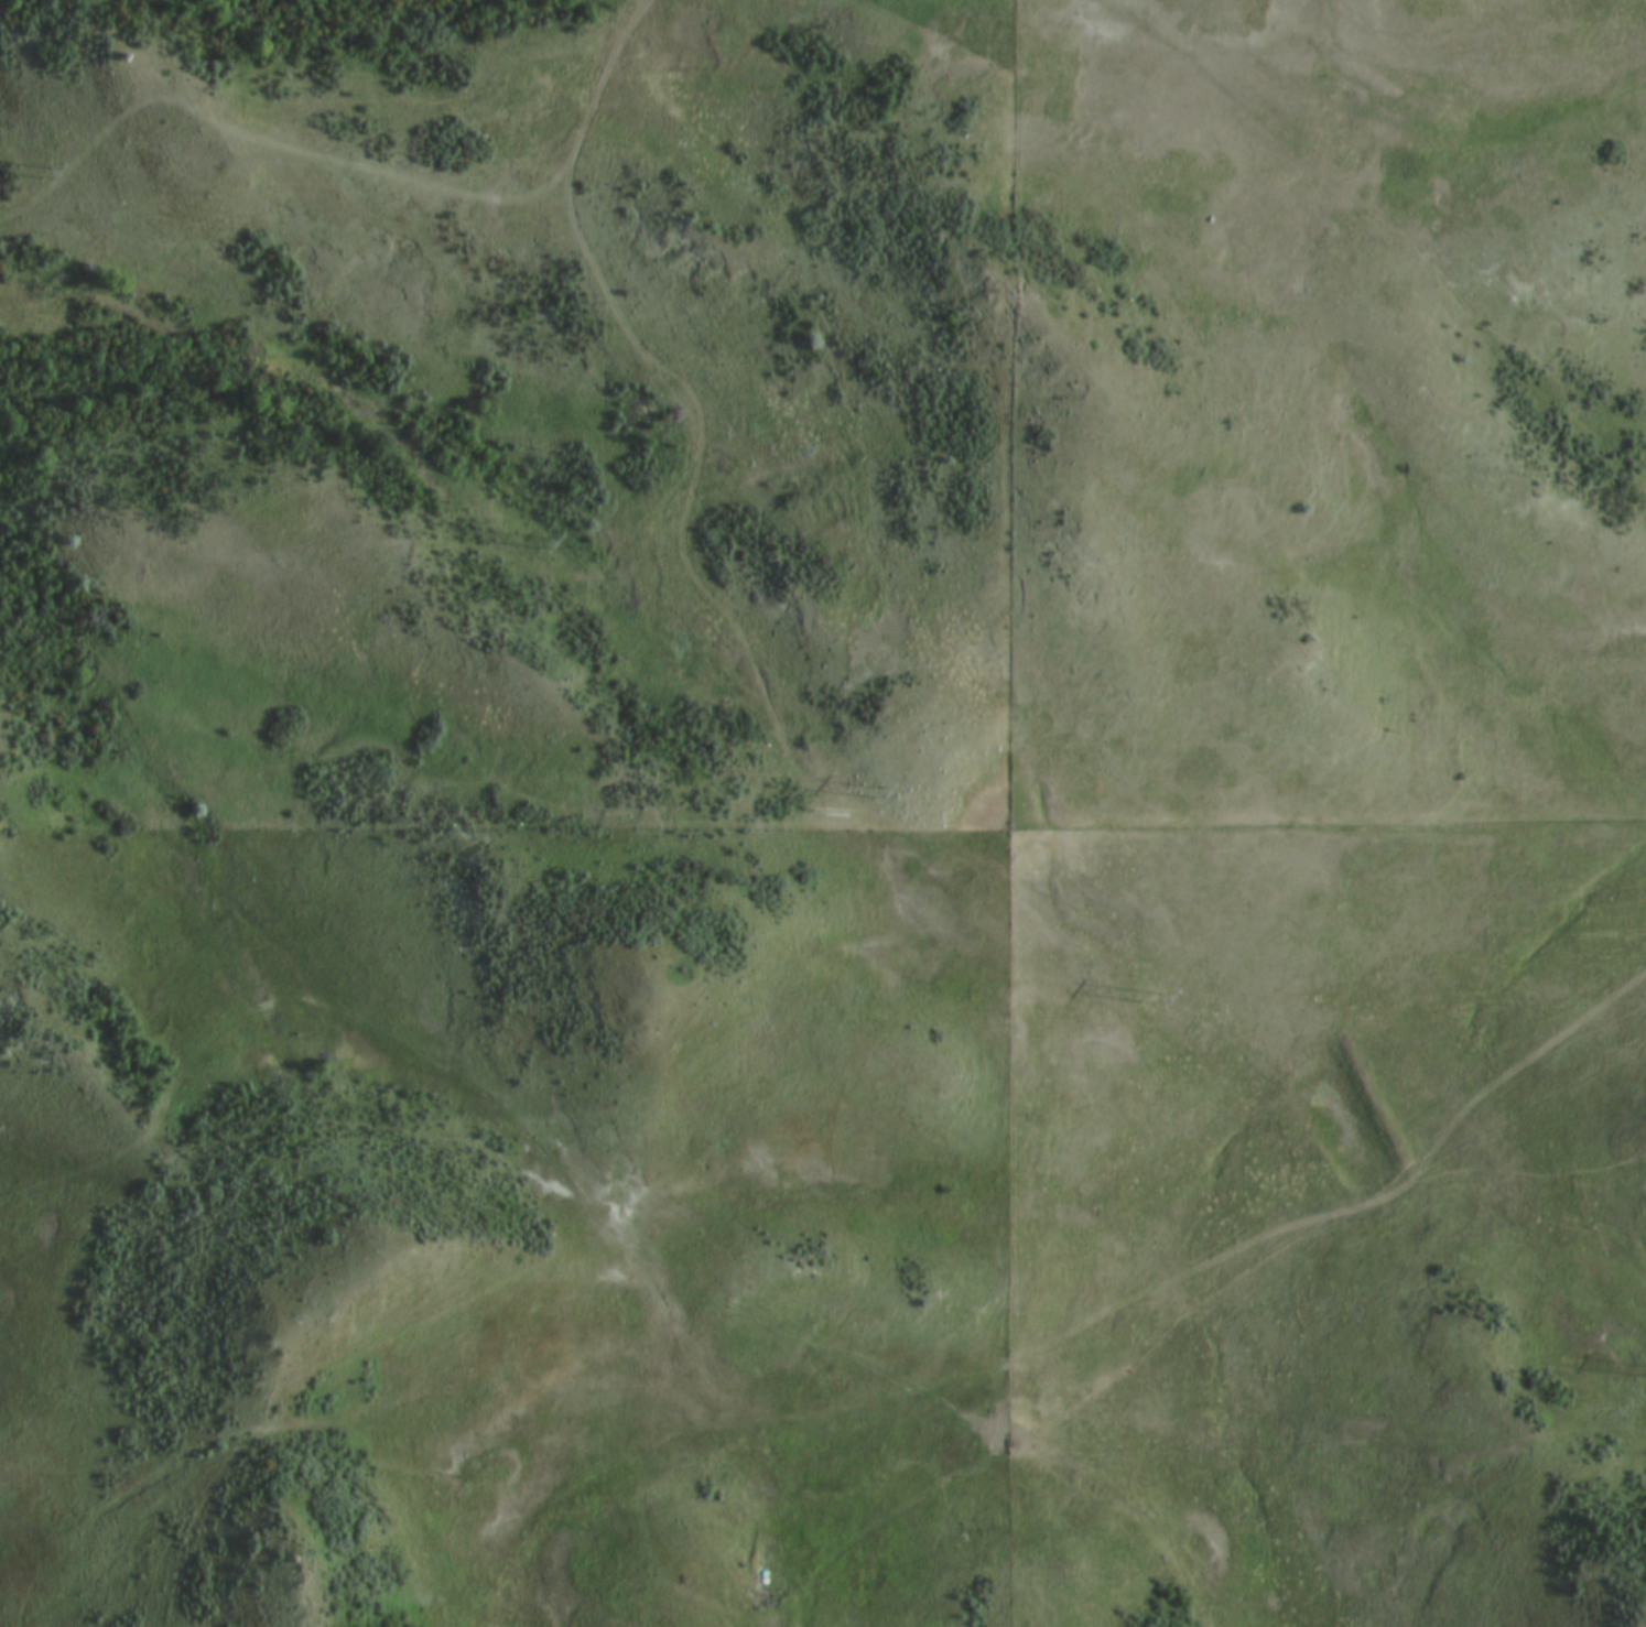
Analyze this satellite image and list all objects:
power tower: (50, 171)
power tower: (543, 539)
power tower: (880, 793)
power tower: (1156, 995)

